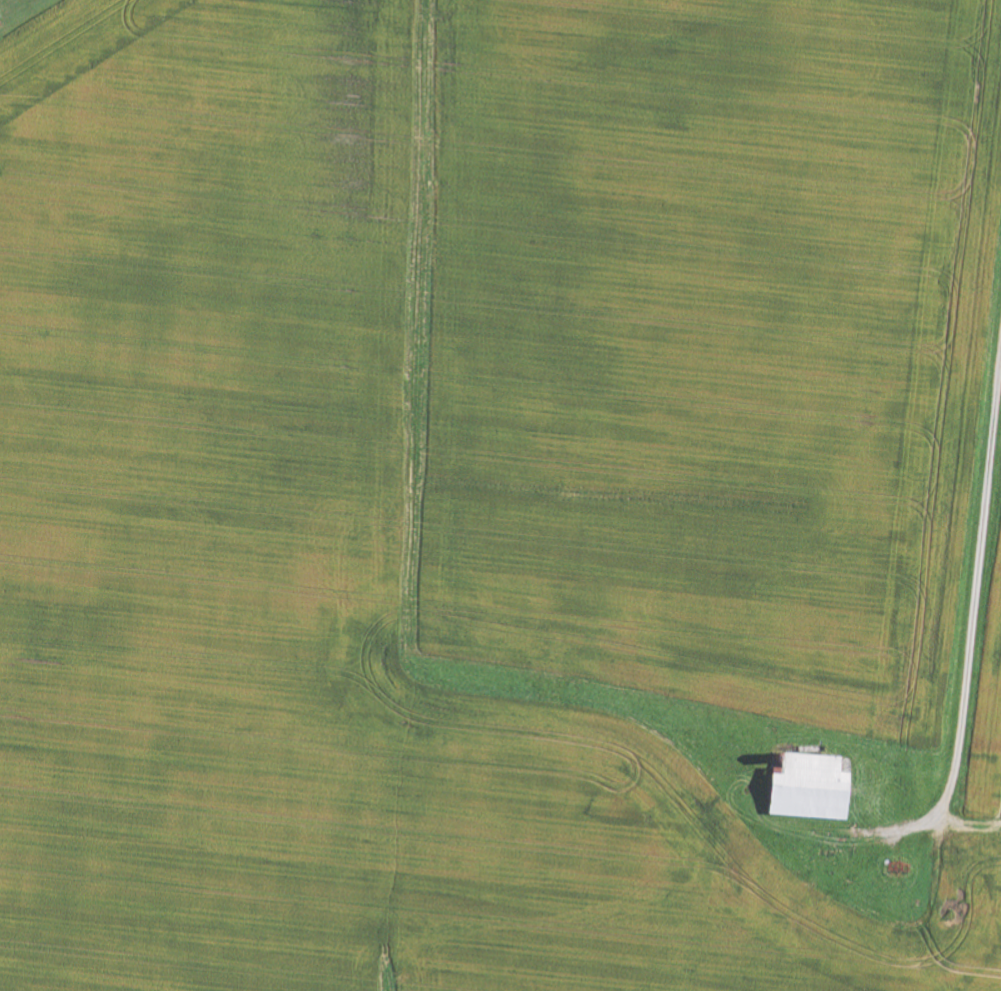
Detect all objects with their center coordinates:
road: (977, 604)
building: (812, 789)

